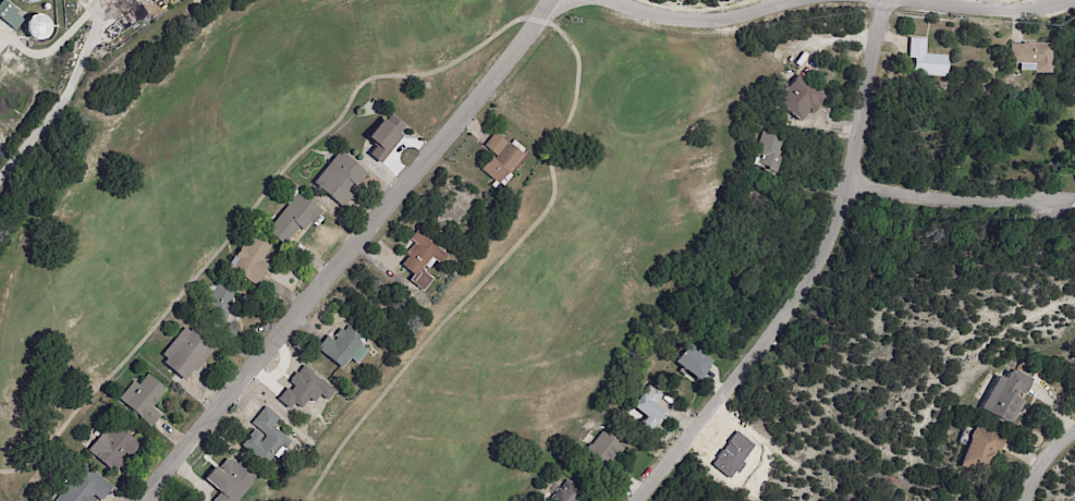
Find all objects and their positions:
building: (156, 1)
road: (957, 1)
building: (4, 10)
road: (705, 21)
road: (478, 47)
building: (1031, 57)
building: (925, 60)
building: (798, 98)
building: (382, 137)
building: (527, 152)
building: (767, 152)
building: (499, 159)
building: (338, 179)
building: (497, 188)
road: (961, 203)
building: (292, 218)
road: (340, 254)
building: (249, 259)
building: (419, 259)
road: (807, 276)
building: (221, 307)
building: (341, 347)
building: (184, 353)
building: (693, 361)
building: (335, 381)
building: (303, 388)
building: (1005, 398)
building: (142, 400)
building: (648, 407)
building: (265, 439)
building: (111, 448)
building: (602, 451)
building: (981, 451)
road: (1041, 455)
building: (229, 481)
building: (81, 487)
building: (566, 492)
building: (42, 497)

